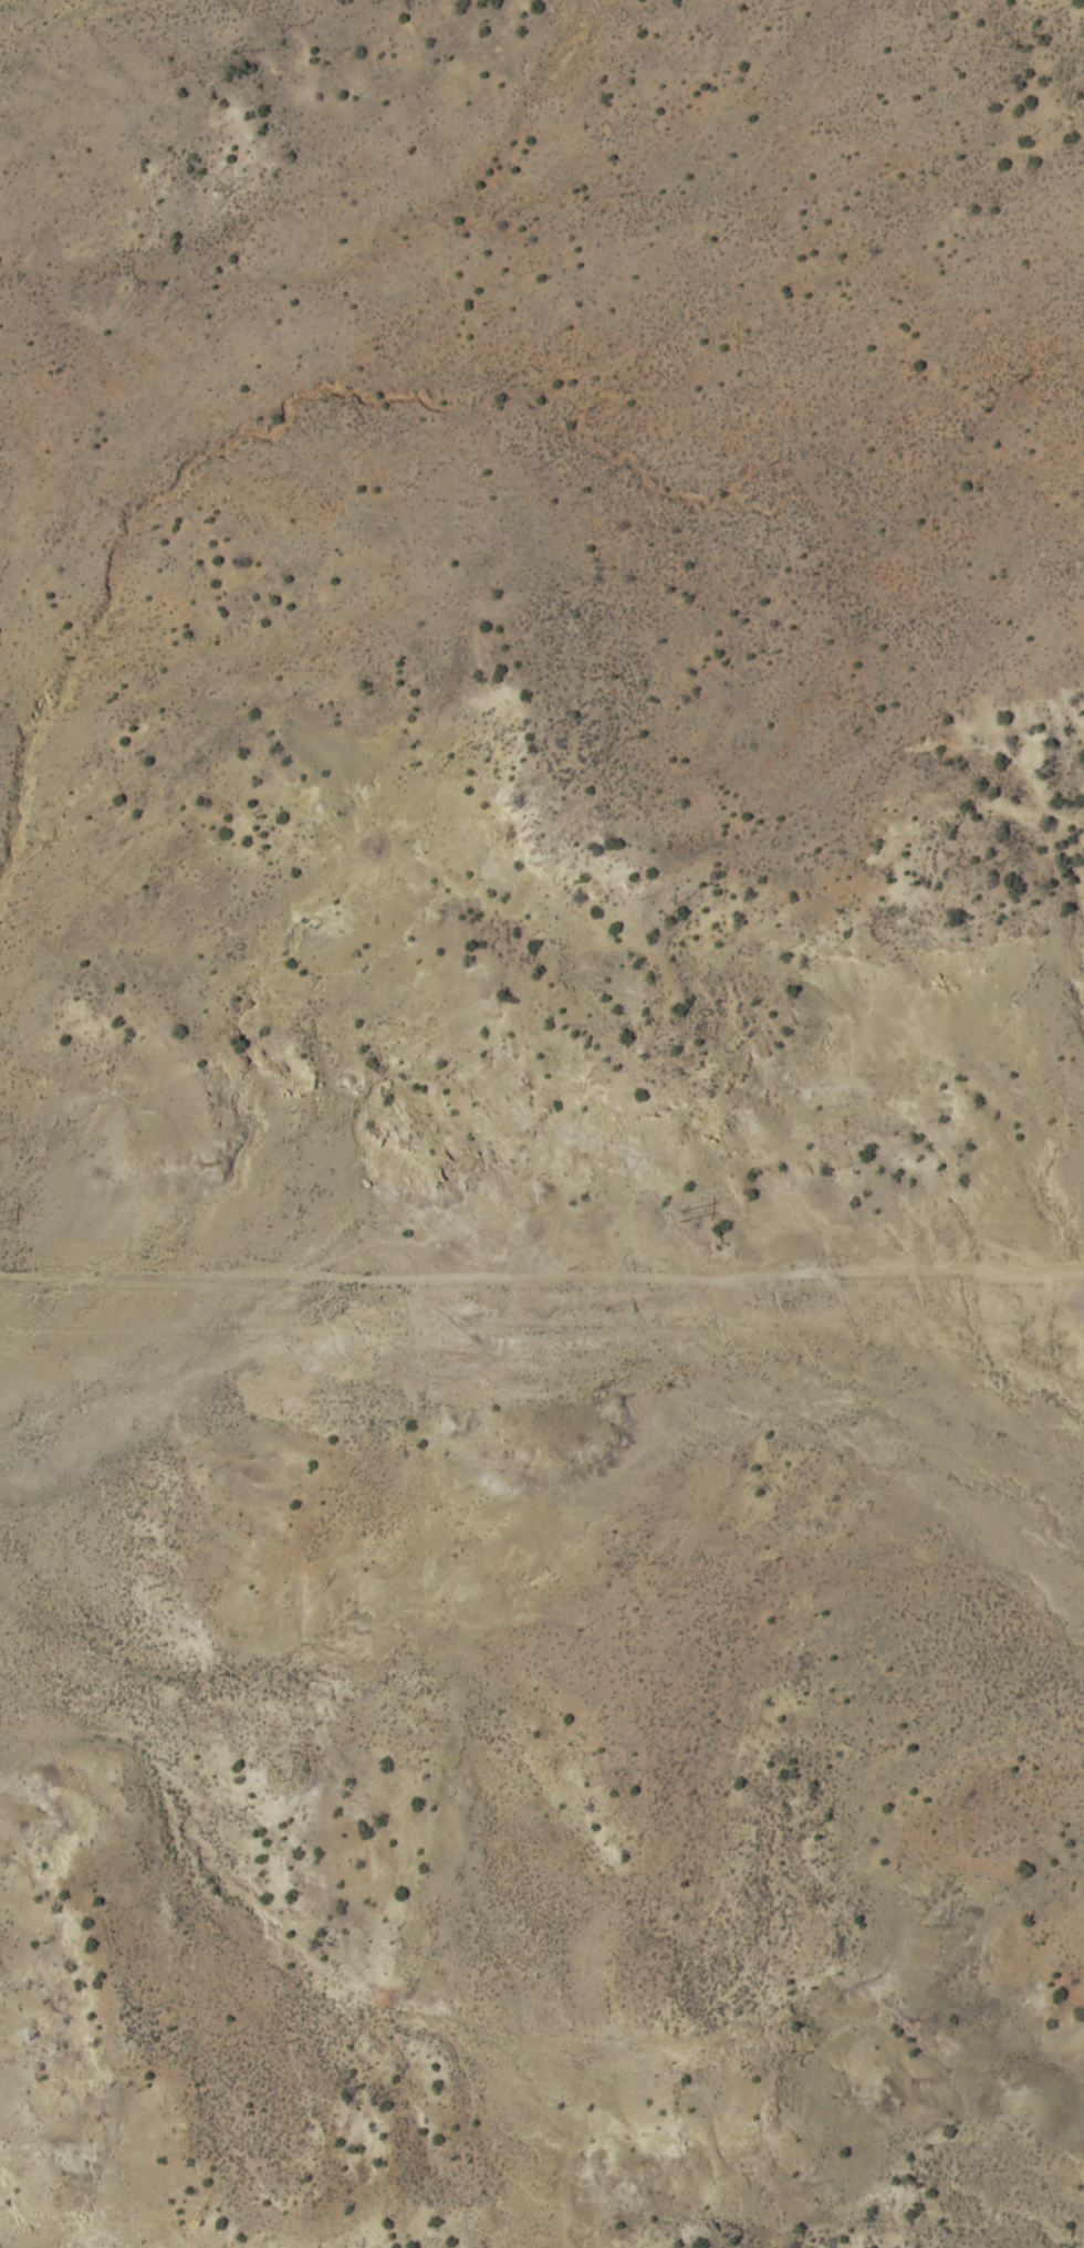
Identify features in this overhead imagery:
road: (897, 813)
power tower: (674, 1217)

